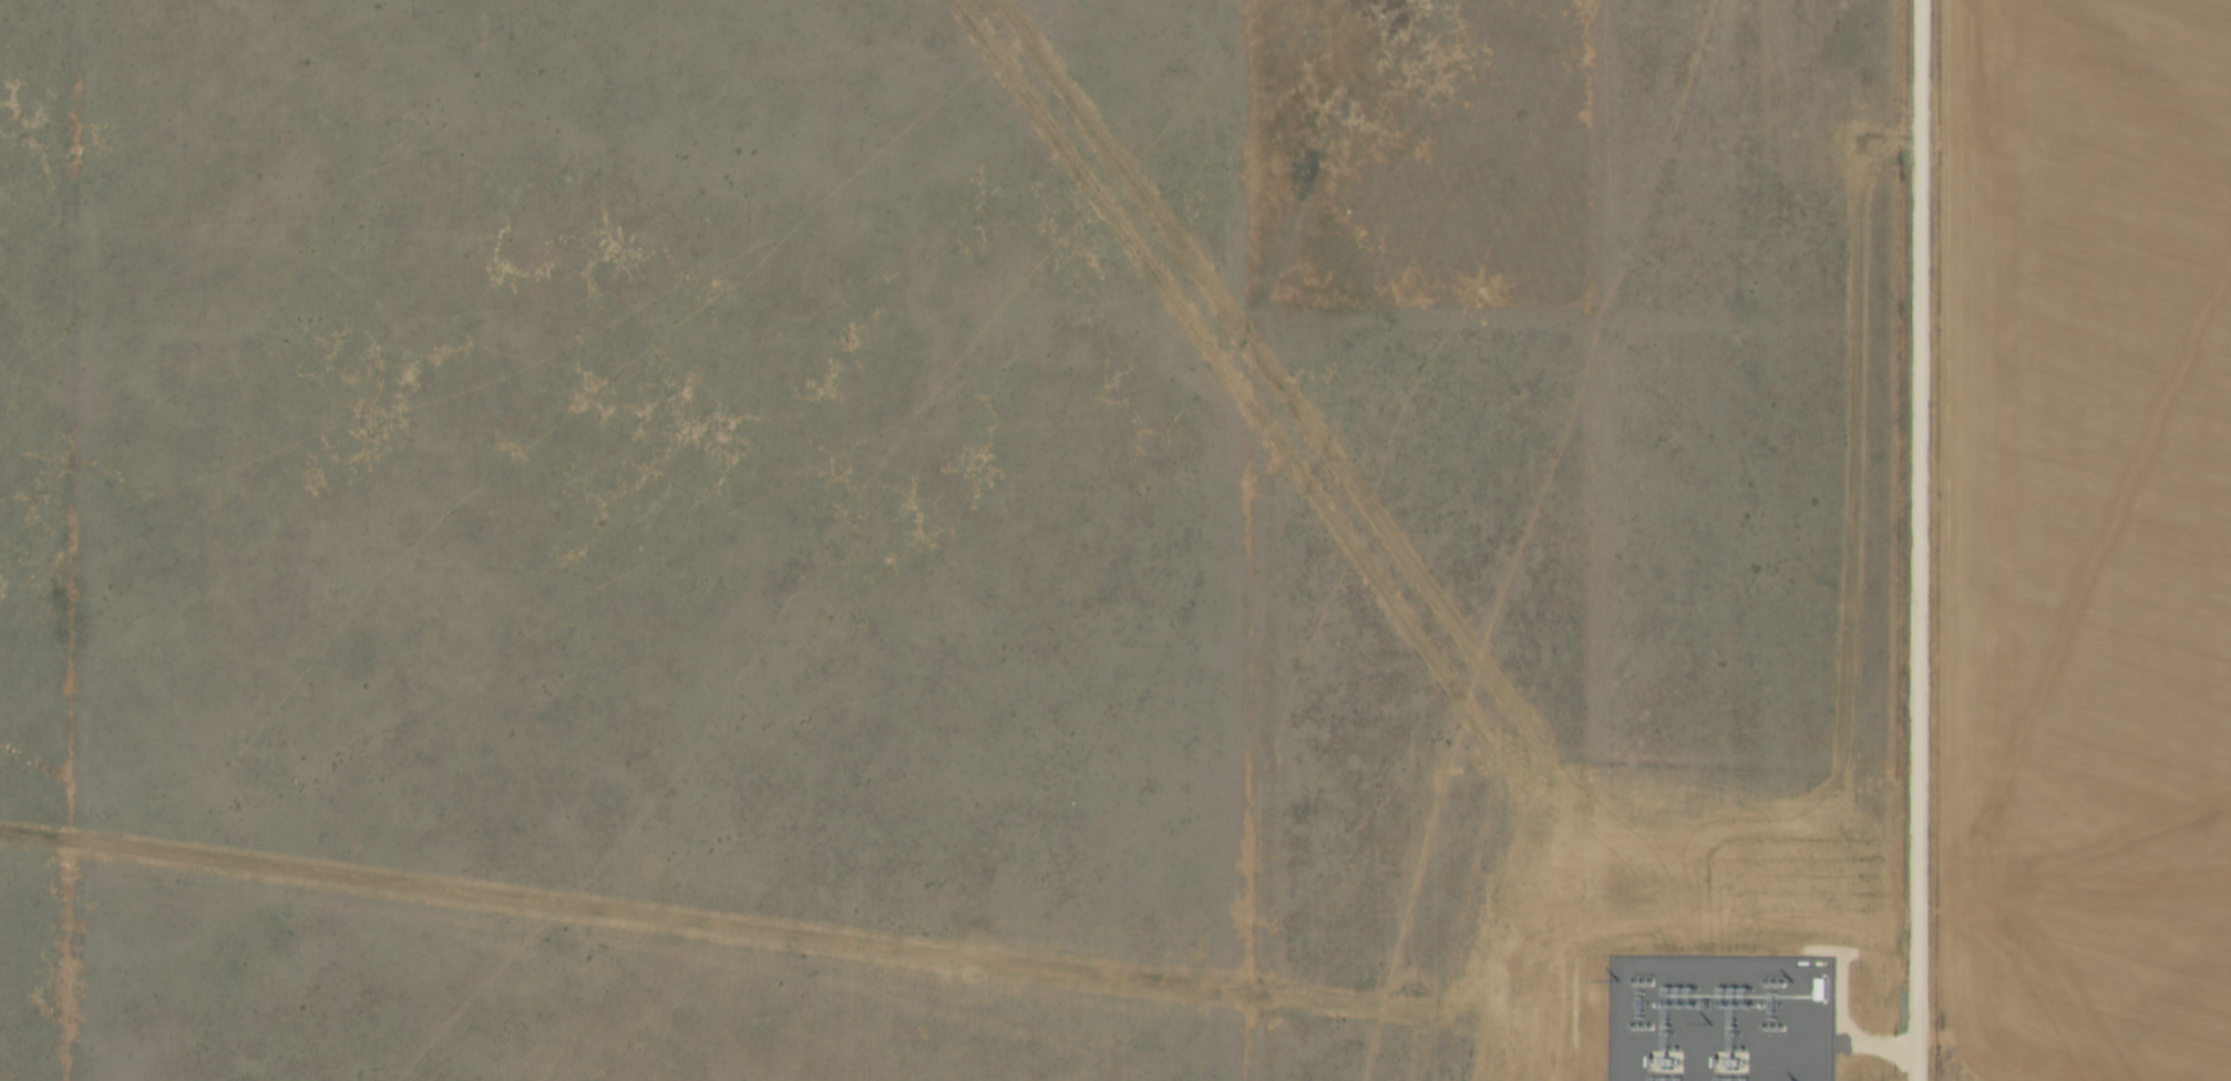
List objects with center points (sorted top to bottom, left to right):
road: (1920, 540)
power substation: (1719, 1019)

